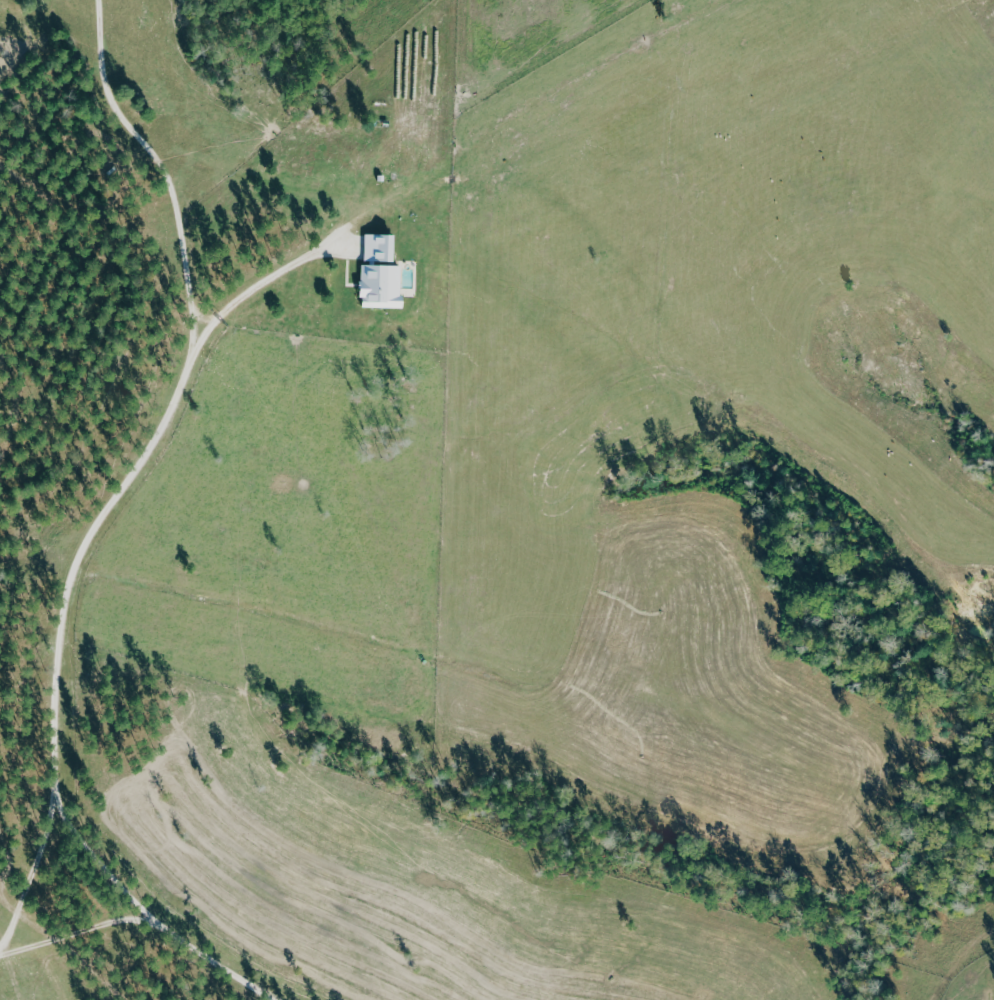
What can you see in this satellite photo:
building: (382, 248)
road: (262, 278)
building: (385, 286)
road: (131, 467)

